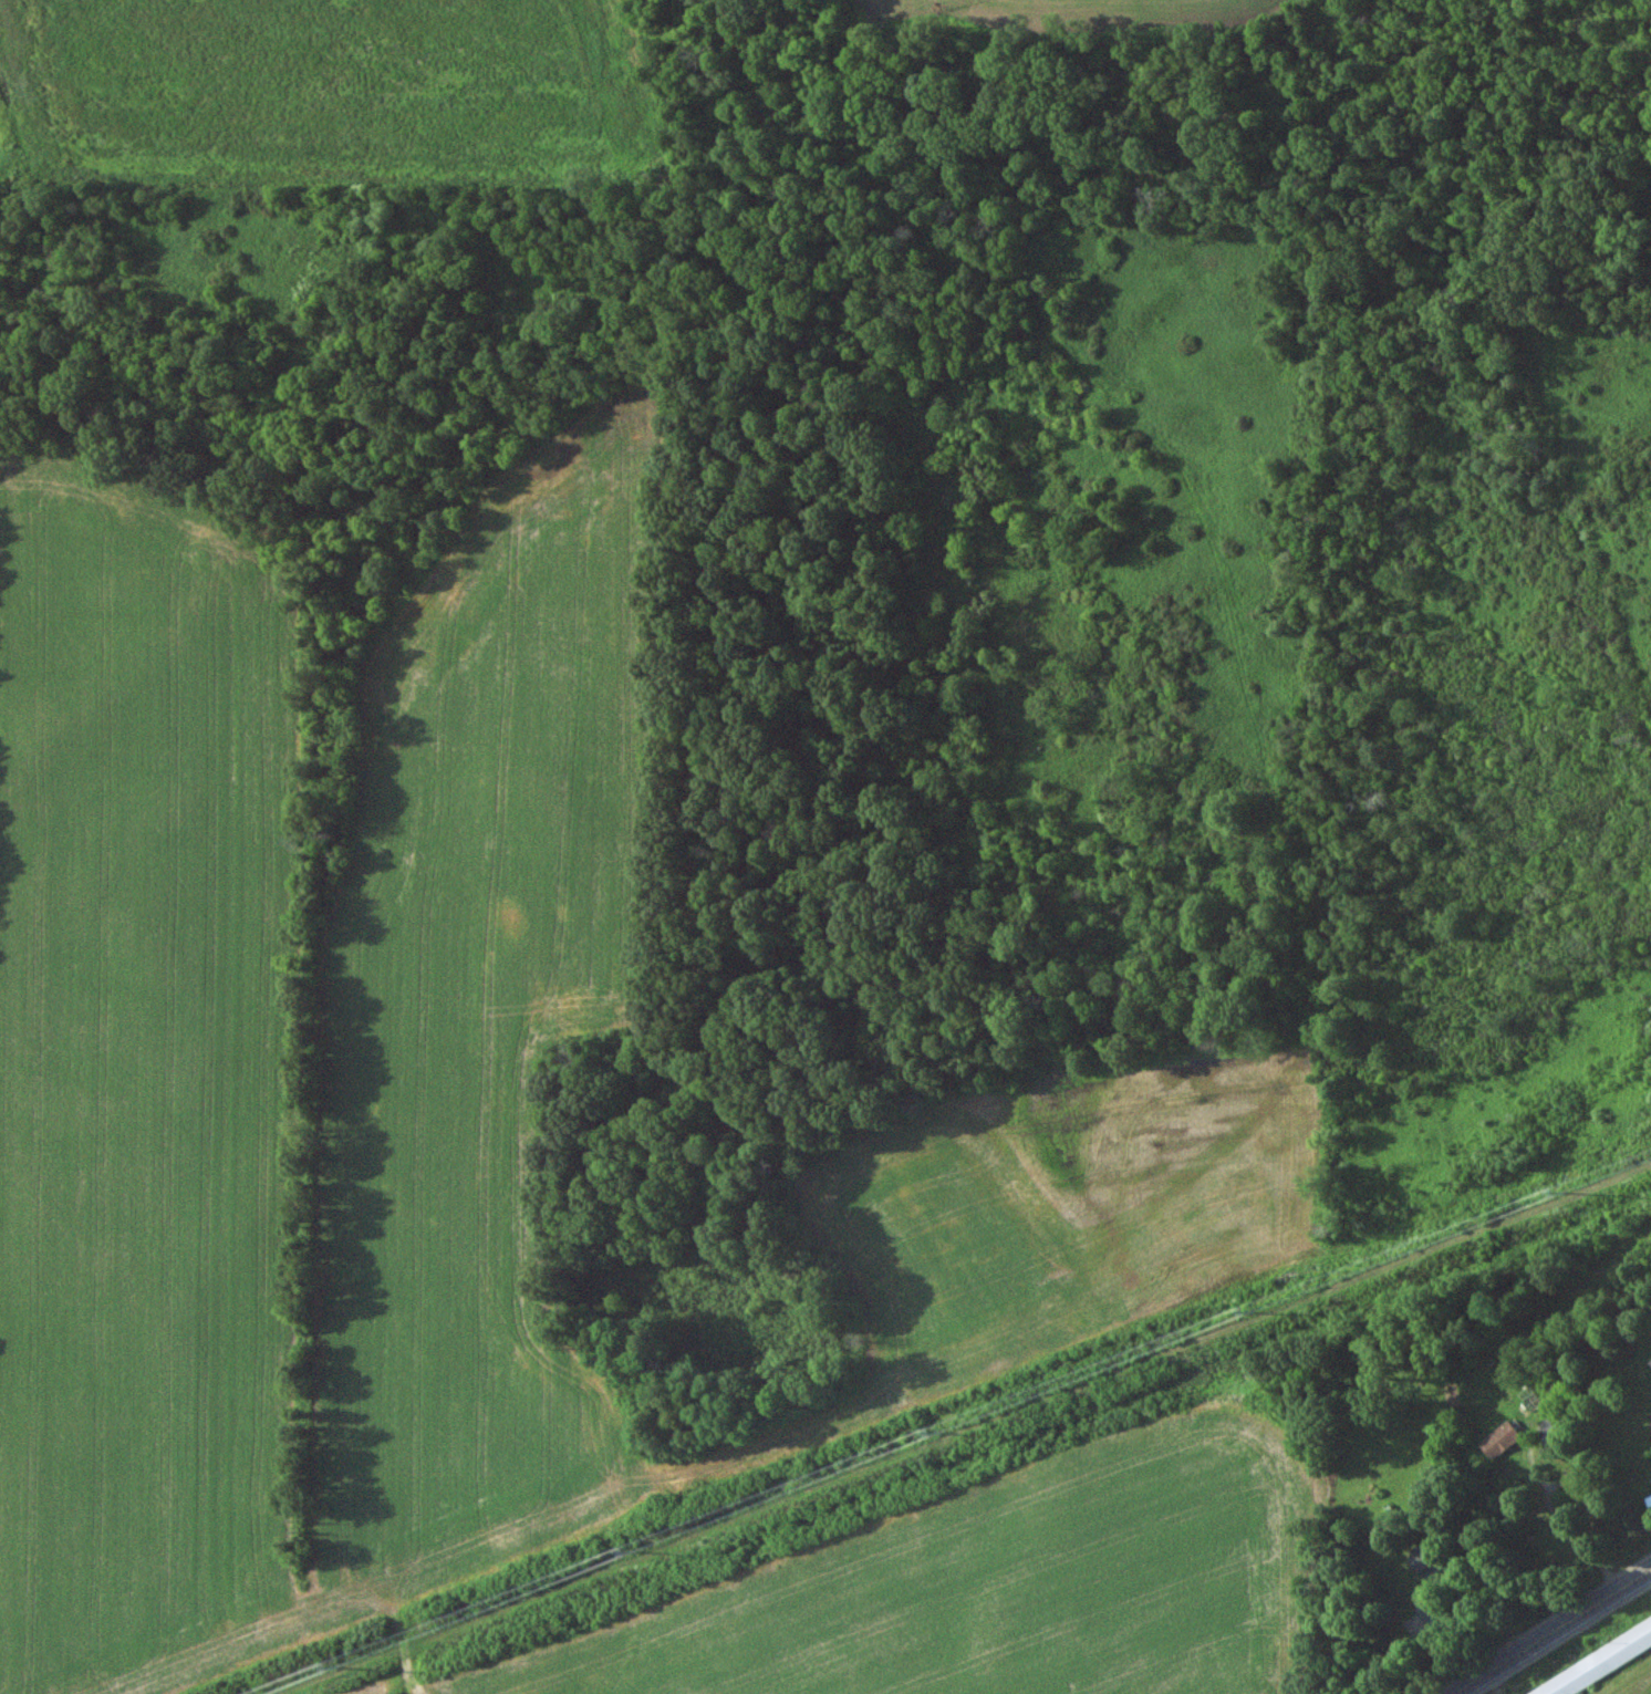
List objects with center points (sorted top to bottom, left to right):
building: (1548, 1433)
building: (1502, 1441)
building: (1649, 1503)
road: (1562, 1535)
building: (1430, 1561)
building: (1434, 1617)
road: (1554, 1633)
building: (1596, 1664)

